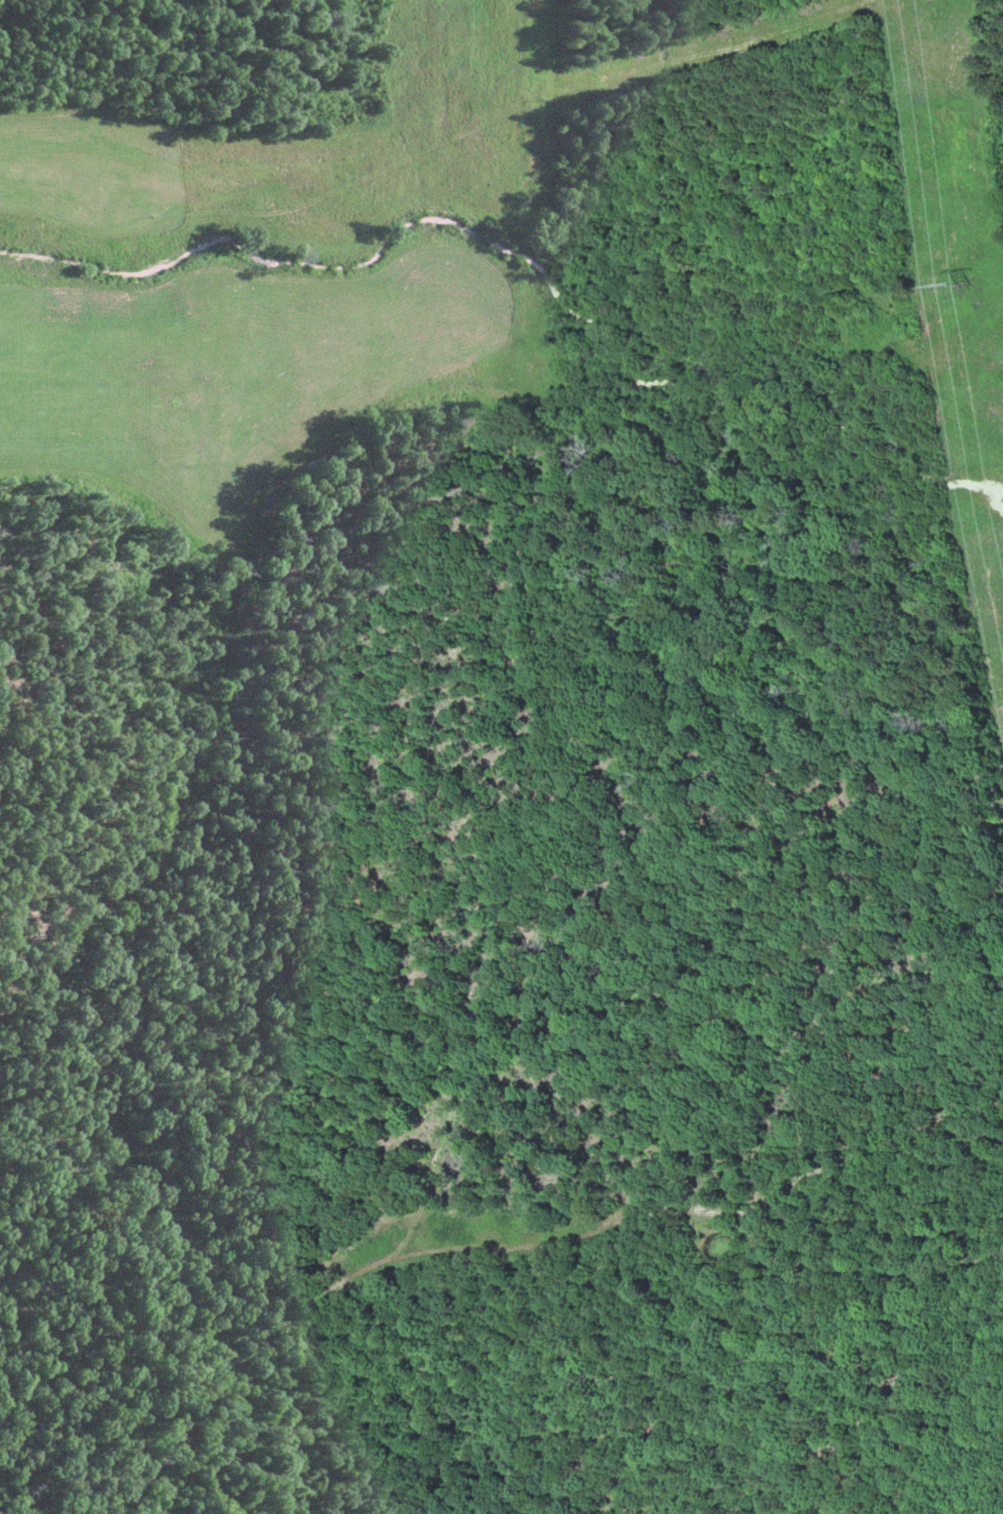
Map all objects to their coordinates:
power tower: (962, 290)

